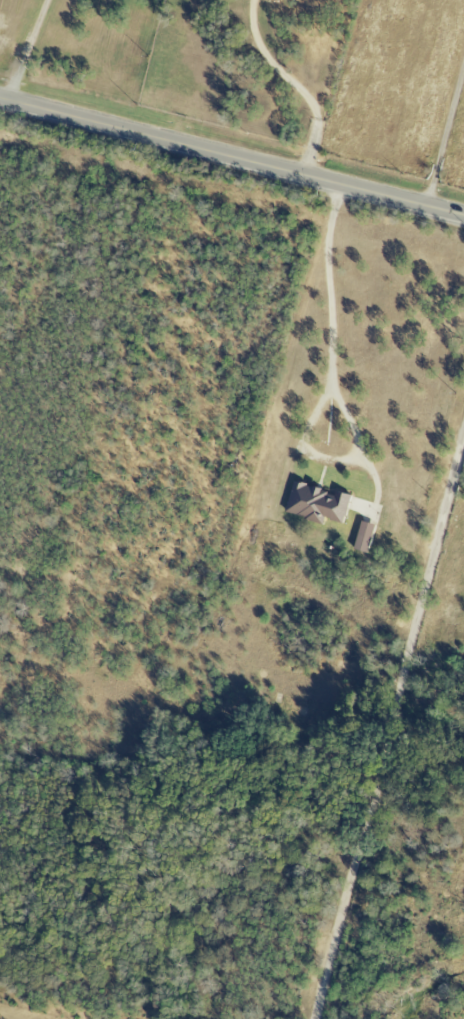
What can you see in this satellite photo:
road: (25, 49)
road: (293, 85)
road: (445, 142)
road: (231, 157)
road: (333, 390)
road: (388, 725)

